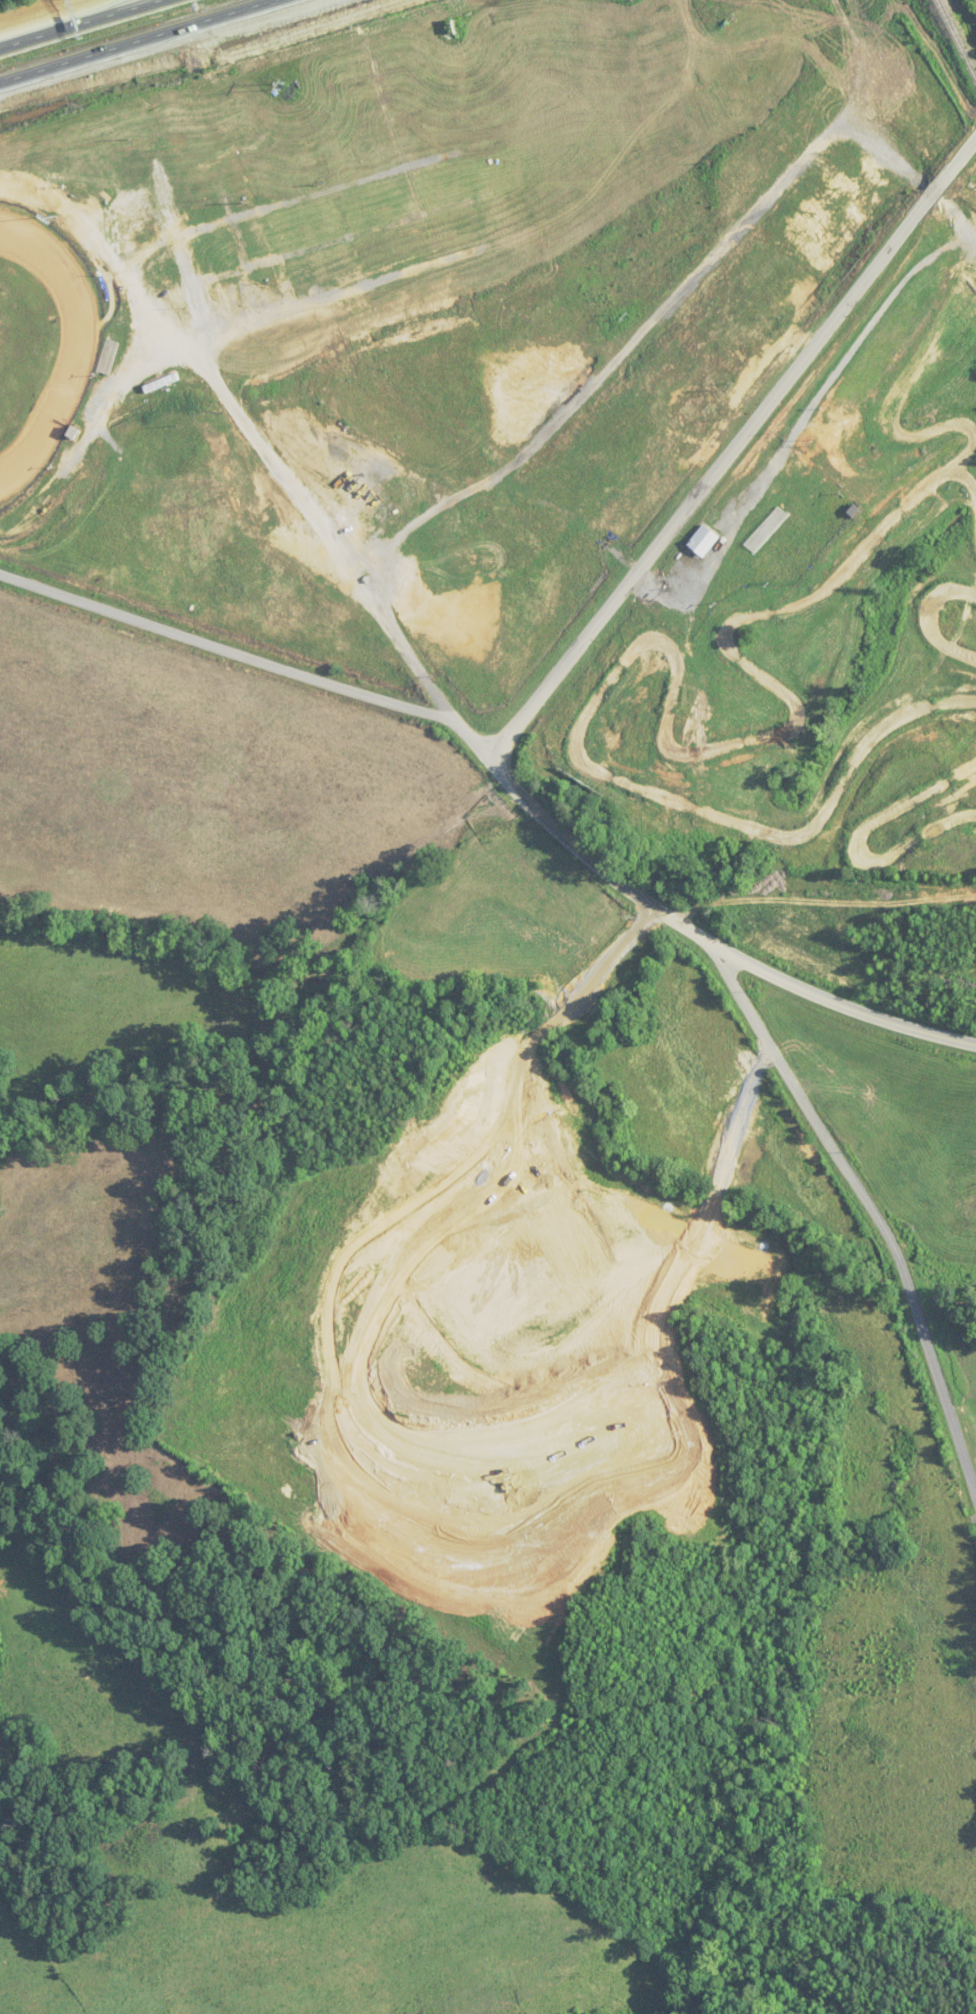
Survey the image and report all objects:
road: (75, 22)
road: (130, 39)
railway: (956, 40)
raceway: (79, 342)
road: (737, 449)
building: (765, 531)
building: (702, 542)
road: (218, 646)
road: (685, 918)
road: (878, 1200)

